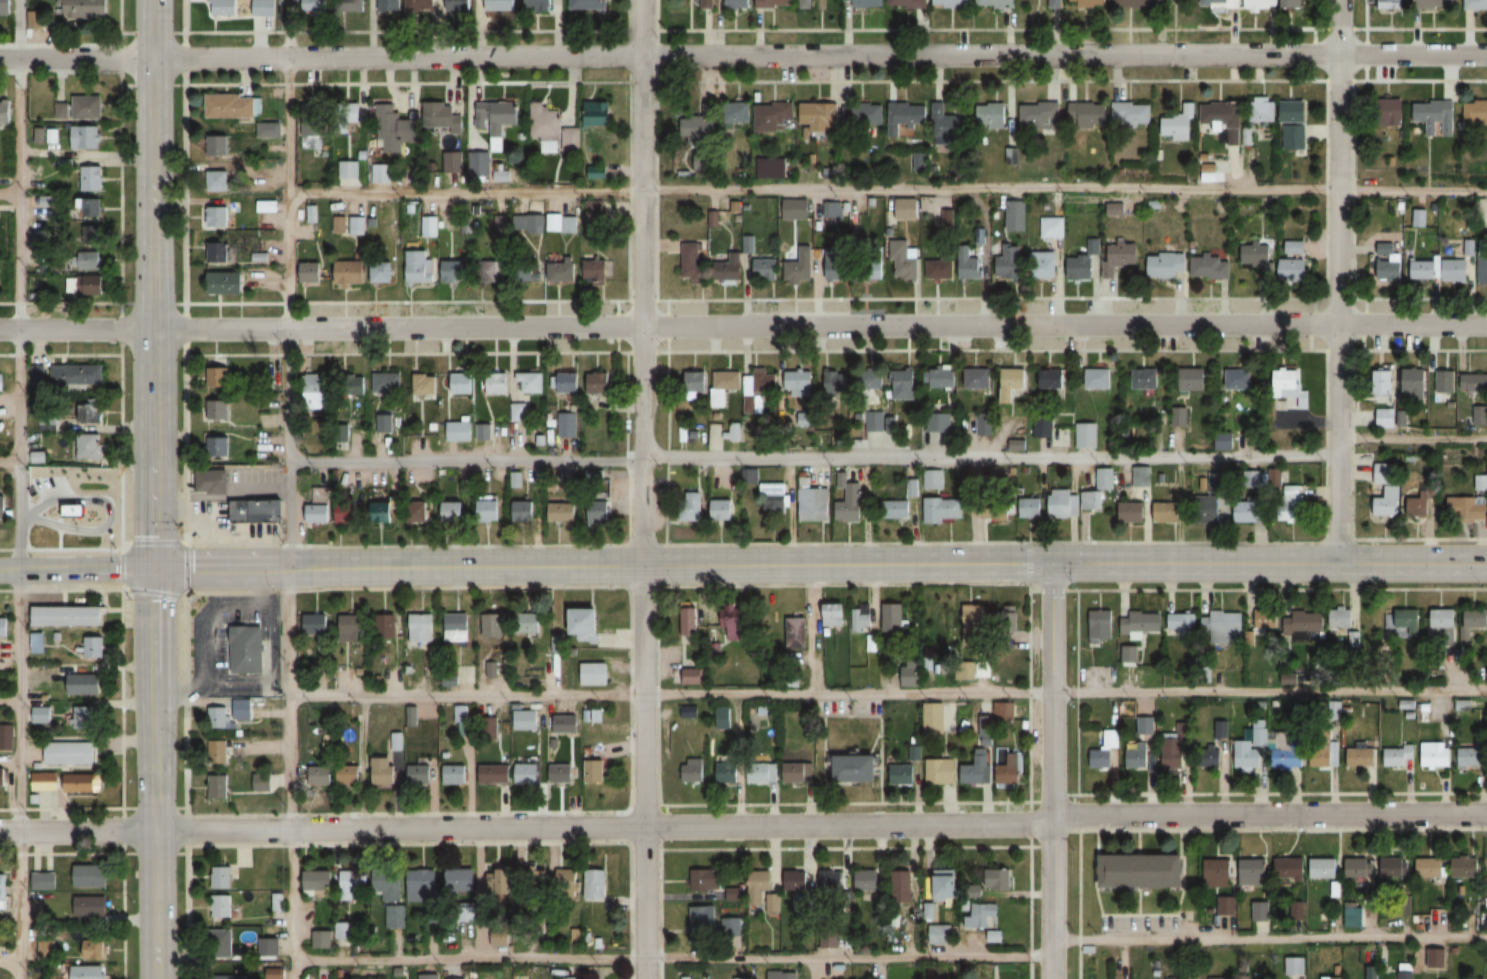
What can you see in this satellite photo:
building: (867, 3)
building: (907, 3)
building: (951, 3)
building: (996, 3)
building: (1090, 3)
building: (1134, 3)
building: (775, 4)
building: (809, 4)
building: (1055, 4)
building: (1164, 4)
building: (1221, 4)
building: (1295, 4)
building: (1433, 4)
building: (419, 5)
building: (458, 5)
building: (540, 5)
building: (589, 5)
building: (738, 5)
building: (1259, 5)
building: (1390, 5)
building: (1476, 5)
building: (315, 6)
building: (350, 6)
building: (388, 6)
building: (499, 6)
building: (11, 7)
building: (224, 7)
building: (82, 10)
road: (76, 45)
road: (743, 56)
road: (287, 96)
building: (233, 106)
building: (87, 107)
building: (1264, 109)
building: (10, 111)
building: (1294, 111)
building: (1476, 111)
building: (598, 113)
building: (738, 113)
building: (1133, 113)
building: (496, 114)
building: (1040, 114)
building: (1088, 114)
building: (993, 115)
building: (1392, 115)
building: (444, 116)
building: (819, 116)
building: (905, 116)
building: (774, 117)
building: (862, 117)
building: (1436, 117)
building: (1223, 119)
building: (314, 120)
building: (545, 122)
building: (947, 126)
building: (1179, 126)
building: (698, 127)
building: (398, 129)
building: (268, 130)
building: (81, 137)
building: (1295, 137)
building: (572, 139)
building: (218, 146)
building: (480, 164)
building: (776, 168)
building: (347, 169)
building: (601, 172)
building: (381, 173)
building: (219, 177)
building: (91, 179)
road: (886, 191)
road: (8, 194)
building: (91, 208)
building: (905, 209)
building: (833, 212)
building: (313, 213)
building: (1017, 215)
building: (214, 217)
building: (946, 217)
building: (1420, 218)
building: (339, 225)
building: (357, 225)
building: (428, 226)
building: (1052, 227)
building: (90, 235)
building: (1294, 248)
building: (216, 253)
building: (1119, 258)
building: (1259, 259)
building: (87, 261)
building: (904, 262)
building: (1009, 262)
building: (1084, 262)
building: (694, 263)
building: (971, 265)
building: (802, 266)
building: (1045, 266)
building: (1167, 266)
building: (421, 267)
building: (836, 267)
building: (877, 267)
building: (1389, 267)
building: (940, 268)
building: (1211, 268)
building: (563, 269)
building: (730, 269)
building: (765, 269)
building: (1294, 269)
building: (0, 270)
building: (1423, 270)
building: (1482, 270)
building: (381, 271)
building: (453, 271)
building: (596, 271)
building: (1455, 271)
building: (311, 272)
building: (350, 272)
building: (488, 272)
building: (528, 272)
road: (1337, 281)
road: (152, 283)
building: (226, 284)
building: (85, 286)
road: (743, 300)
road: (743, 326)
road: (287, 328)
building: (76, 375)
building: (217, 378)
building: (944, 379)
building: (979, 379)
building: (1052, 380)
building: (1099, 380)
building: (1146, 380)
building: (1240, 380)
building: (1384, 380)
building: (908, 381)
building: (1194, 381)
building: (838, 382)
building: (871, 382)
building: (1445, 382)
building: (386, 383)
building: (462, 383)
building: (531, 383)
building: (569, 383)
building: (696, 383)
building: (799, 383)
building: (1473, 383)
building: (497, 384)
building: (599, 384)
building: (1415, 384)
building: (424, 385)
building: (1013, 385)
building: (1288, 385)
building: (725, 386)
building: (759, 390)
building: (315, 392)
building: (215, 409)
building: (91, 412)
building: (518, 412)
building: (1480, 415)
building: (1384, 419)
building: (940, 422)
building: (384, 423)
building: (983, 426)
building: (1042, 426)
building: (460, 431)
building: (736, 431)
building: (480, 432)
building: (1085, 436)
road: (1411, 439)
building: (1223, 441)
building: (1017, 444)
building: (88, 446)
building: (217, 447)
road: (812, 457)
road: (9, 463)
building: (1140, 476)
building: (595, 477)
building: (936, 478)
building: (1104, 478)
building: (213, 482)
road: (18, 489)
road: (184, 489)
road: (641, 489)
building: (1384, 489)
building: (774, 499)
building: (1091, 500)
building: (811, 501)
building: (318, 502)
building: (1421, 502)
building: (849, 503)
building: (901, 503)
building: (1061, 503)
building: (1292, 503)
building: (1029, 505)
building: (691, 506)
building: (943, 508)
building: (1467, 508)
building: (4, 509)
building: (994, 509)
building: (1208, 509)
building: (489, 510)
building: (722, 510)
building: (1167, 511)
building: (1249, 511)
building: (259, 512)
building: (453, 512)
building: (524, 512)
building: (562, 512)
building: (1133, 512)
building: (383, 513)
building: (419, 513)
building: (348, 515)
building: (599, 518)
road: (1026, 562)
traffic signals: (1051, 562)
road: (820, 564)
road: (76, 568)
traffic signals: (153, 568)
road: (289, 579)
building: (833, 614)
building: (69, 615)
building: (862, 615)
building: (889, 617)
building: (1444, 617)
building: (1476, 617)
building: (1340, 618)
building: (1266, 619)
building: (586, 620)
building: (531, 622)
building: (690, 622)
building: (1404, 622)
building: (316, 623)
building: (1140, 623)
building: (386, 624)
building: (1180, 624)
building: (353, 625)
building: (492, 625)
building: (730, 625)
building: (974, 625)
building: (1301, 625)
building: (4, 626)
building: (1099, 626)
building: (421, 627)
building: (456, 627)
building: (1221, 629)
building: (796, 632)
building: (1353, 638)
building: (38, 641)
building: (866, 643)
building: (88, 646)
building: (247, 649)
building: (594, 673)
building: (910, 673)
building: (692, 676)
building: (84, 683)
road: (888, 694)
road: (10, 703)
building: (243, 709)
building: (689, 711)
building: (1004, 711)
building: (41, 714)
building: (597, 715)
building: (82, 716)
building: (219, 716)
building: (722, 718)
building: (933, 718)
building: (526, 719)
building: (573, 725)
building: (489, 728)
building: (6, 736)
building: (395, 741)
building: (1104, 748)
building: (1173, 749)
building: (218, 751)
building: (70, 753)
building: (1324, 755)
building: (1435, 755)
building: (1473, 755)
building: (1138, 756)
building: (1397, 757)
building: (1360, 758)
building: (1209, 759)
building: (1290, 759)
building: (1247, 761)
building: (1009, 766)
building: (857, 768)
building: (977, 768)
building: (384, 770)
building: (692, 770)
road: (1052, 770)
building: (594, 771)
building: (763, 771)
building: (940, 771)
building: (528, 772)
building: (727, 772)
building: (800, 772)
road: (154, 773)
building: (495, 773)
building: (561, 773)
building: (321, 774)
building: (420, 774)
building: (455, 774)
building: (902, 774)
building: (350, 775)
building: (3, 778)
building: (44, 781)
building: (82, 782)
building: (263, 783)
building: (220, 786)
road: (744, 824)
road: (291, 830)
building: (1324, 867)
building: (1357, 867)
building: (1392, 867)
building: (1430, 867)
building: (1467, 867)
building: (1143, 869)
building: (1291, 869)
building: (1252, 871)
building: (1218, 872)
building: (90, 875)
building: (568, 876)
building: (221, 877)
building: (318, 879)
building: (460, 879)
building: (705, 879)
building: (795, 879)
building: (866, 879)
building: (997, 879)
building: (43, 880)
building: (831, 880)
building: (498, 881)
building: (352, 882)
building: (421, 883)
building: (595, 883)
building: (947, 883)
building: (387, 885)
building: (759, 885)
building: (902, 885)
building: (3, 890)
building: (734, 893)
building: (801, 902)
building: (773, 903)
building: (221, 905)
building: (1227, 905)
building: (90, 906)
building: (1260, 910)
building: (980, 914)
building: (1353, 915)
building: (395, 916)
building: (703, 923)
building: (733, 927)
building: (939, 934)
road: (1270, 938)
building: (222, 943)
building: (269, 946)
building: (93, 948)
building: (46, 949)
road: (671, 959)
road: (10, 965)
building: (1295, 965)
road: (291, 971)
building: (1406, 971)
building: (88, 972)
building: (782, 974)
building: (231, 977)
building: (572, 977)
building: (1217, 978)

